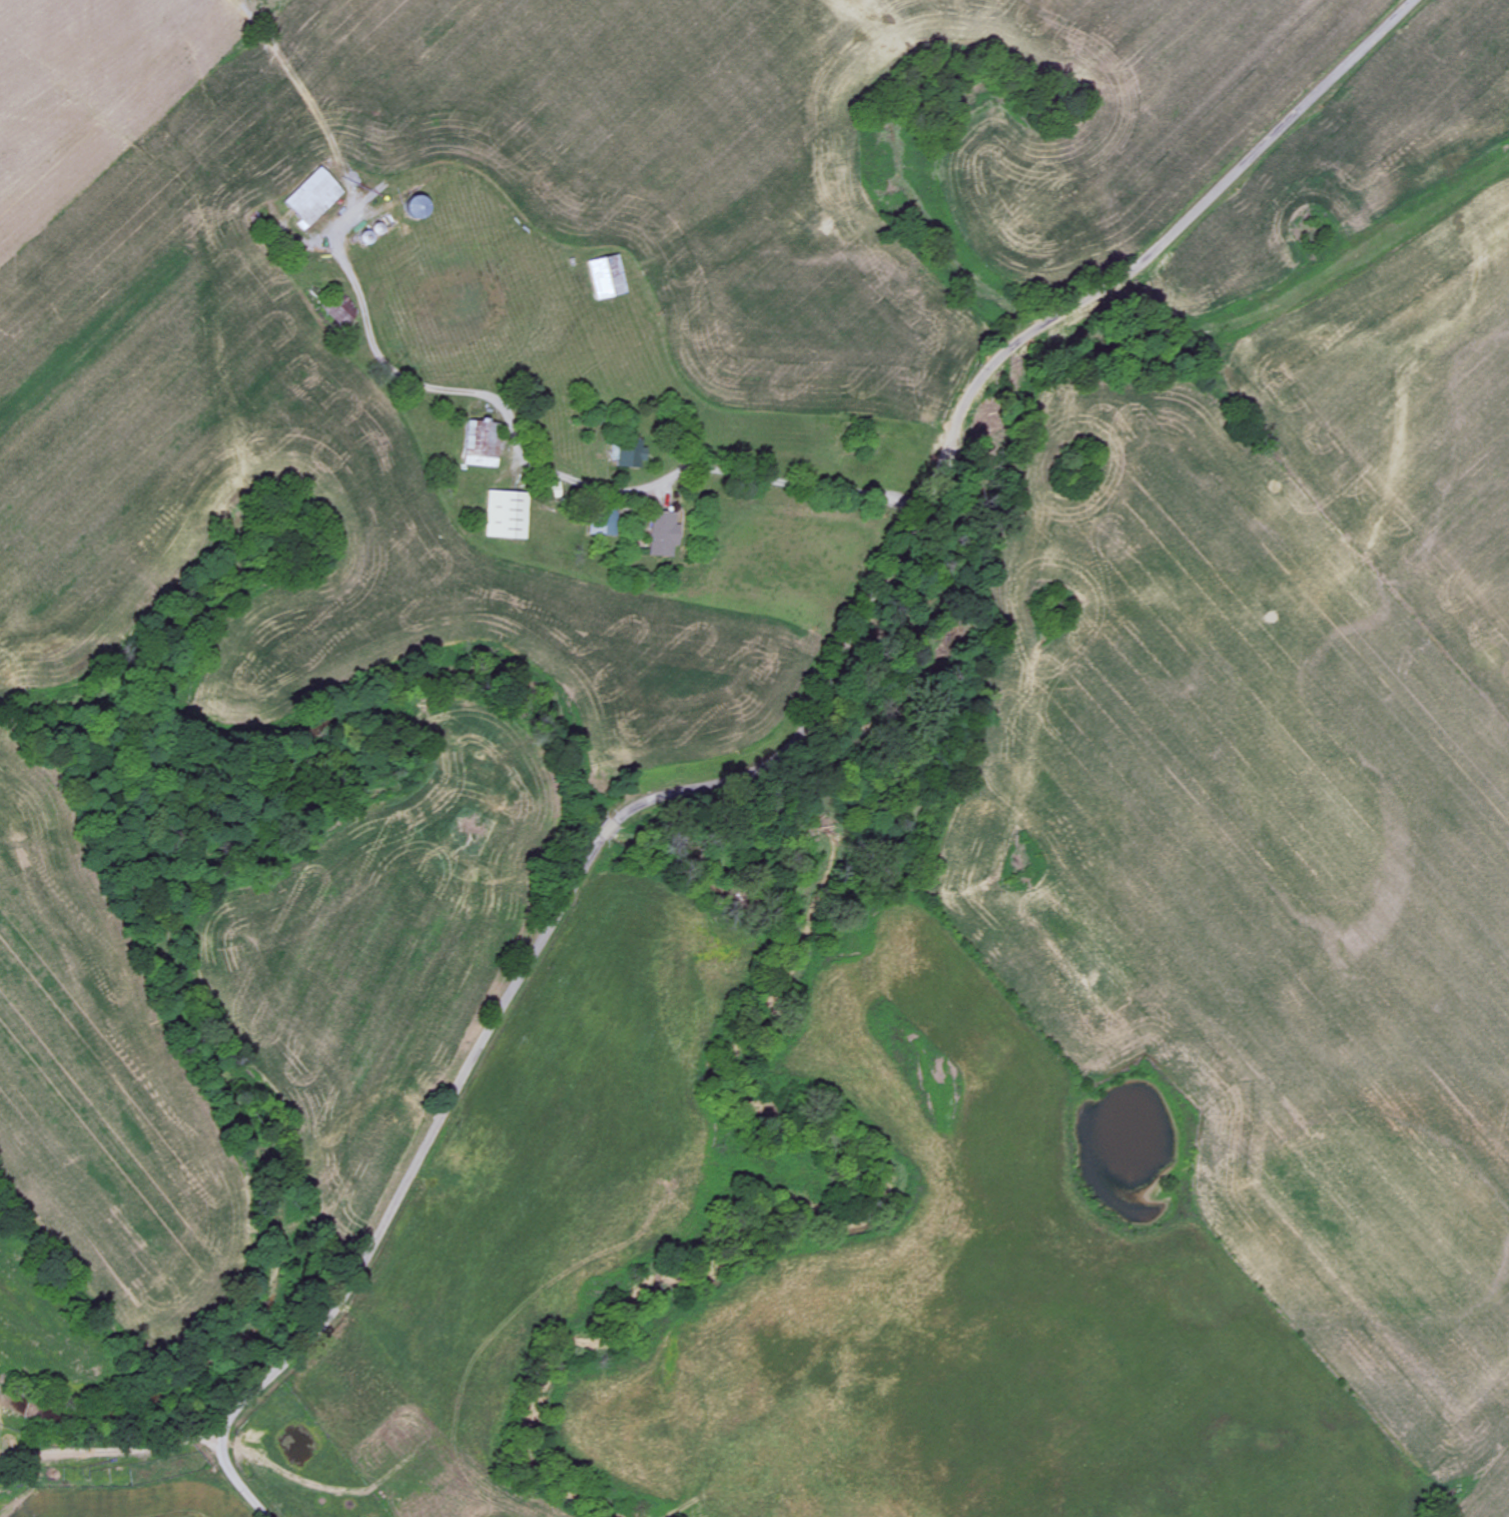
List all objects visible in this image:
building: (313, 198)
building: (415, 209)
building: (607, 277)
building: (483, 445)
building: (627, 455)
road: (757, 470)
building: (507, 516)
building: (663, 535)
road: (782, 758)

